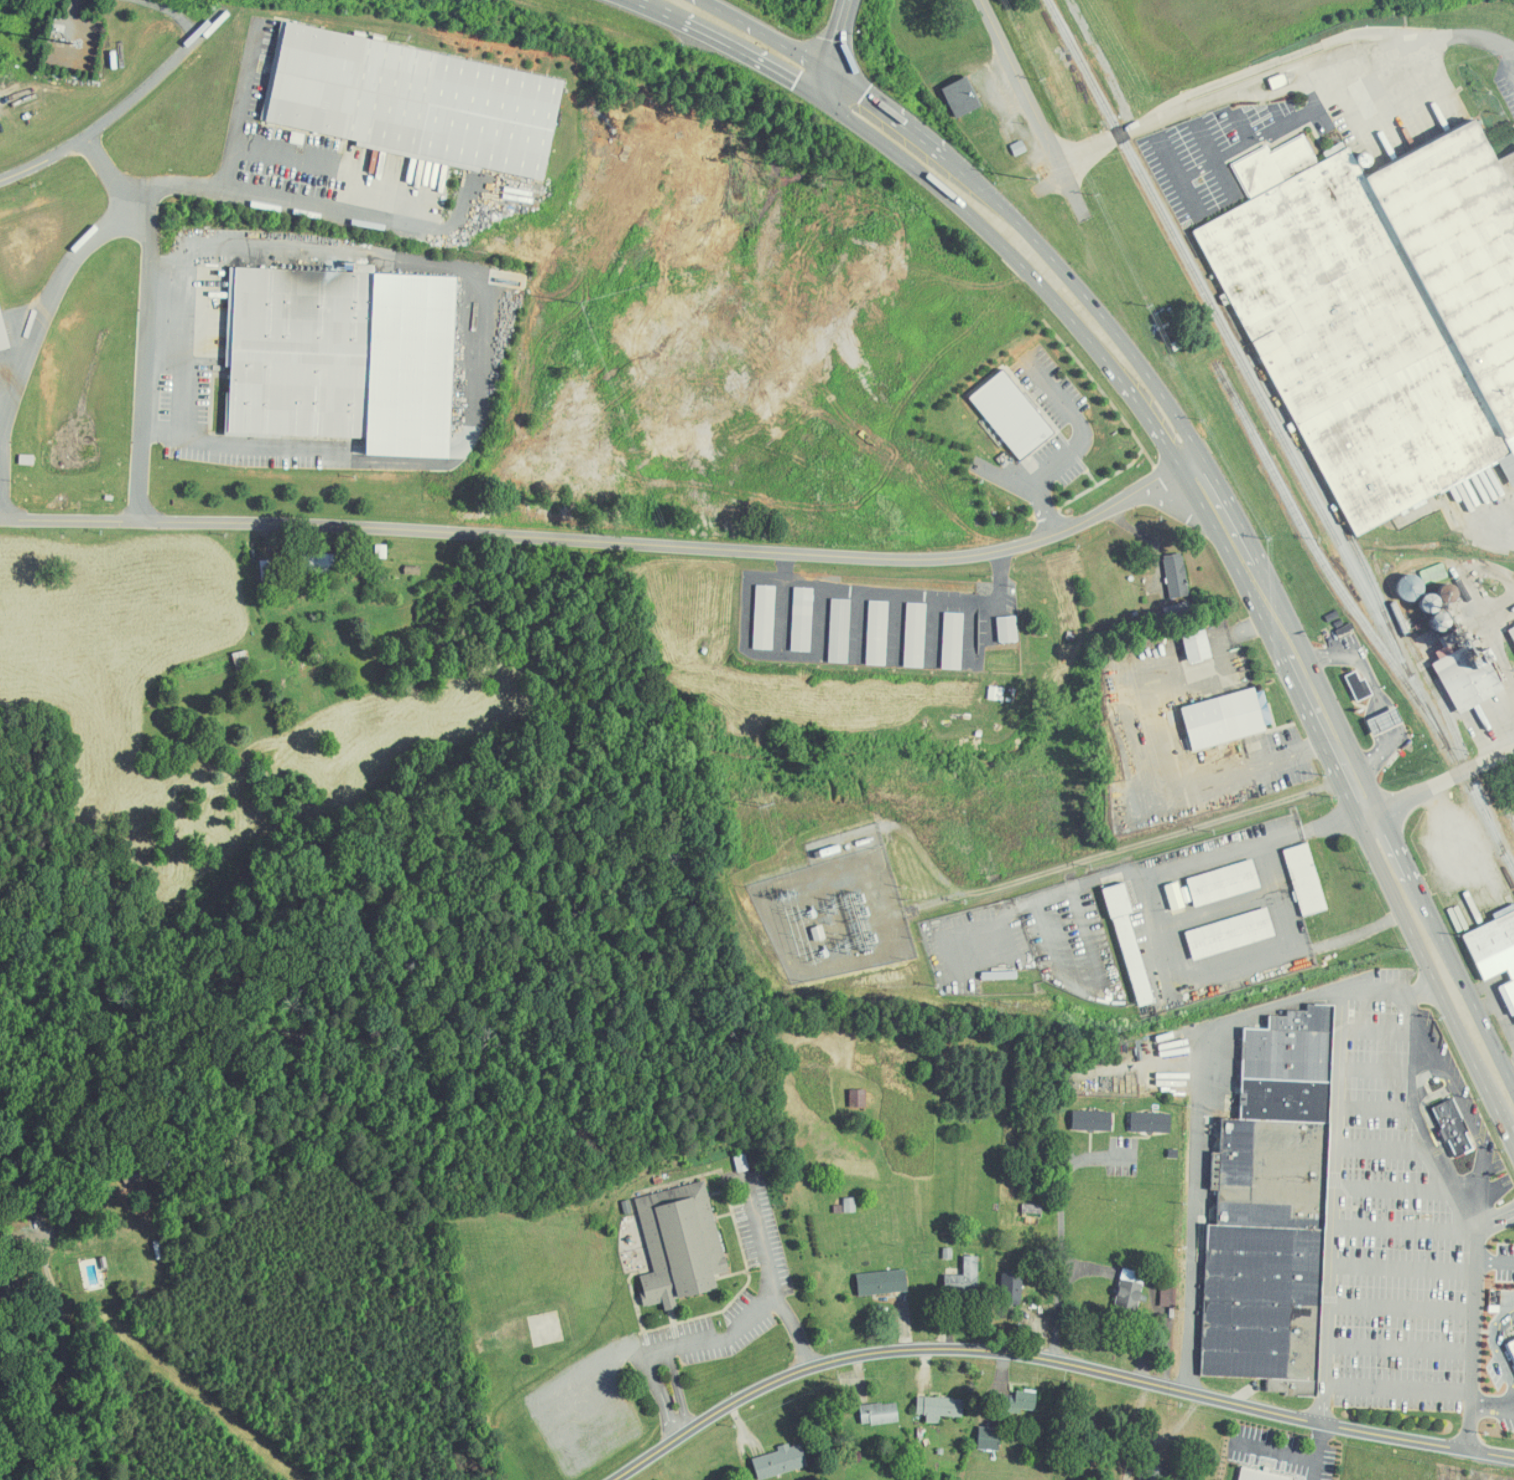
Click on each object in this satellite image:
road: (650, 5)
road: (762, 34)
road: (1420, 34)
road: (834, 47)
road: (742, 51)
road: (1507, 53)
building: (961, 97)
building: (415, 102)
road: (126, 104)
road: (242, 105)
road: (1192, 106)
road: (1035, 108)
building: (1260, 169)
road: (279, 197)
road: (1037, 242)
road: (72, 264)
road: (1020, 265)
building: (3, 335)
road: (146, 354)
road: (481, 356)
building: (343, 358)
building: (1013, 415)
road: (1, 421)
railway: (1281, 434)
road: (1073, 445)
road: (605, 542)
building: (314, 563)
building: (1177, 575)
building: (765, 617)
building: (803, 619)
building: (1008, 629)
building: (840, 630)
building: (1512, 632)
building: (878, 633)
building: (916, 635)
road: (1283, 638)
building: (953, 641)
building: (1197, 646)
building: (243, 661)
building: (1468, 680)
building: (1359, 686)
building: (1265, 708)
building: (1224, 719)
building: (1385, 722)
road: (1440, 780)
road: (1075, 863)
building: (1306, 879)
building: (1224, 883)
building: (1176, 896)
road: (1281, 901)
building: (1231, 934)
building: (1130, 943)
road: (1449, 946)
building: (1495, 952)
road: (1432, 987)
road: (1376, 1029)
road: (1374, 1067)
road: (1426, 1075)
building: (858, 1099)
road: (1375, 1105)
road: (1198, 1109)
building: (1093, 1121)
building: (1152, 1123)
road: (1417, 1126)
building: (1454, 1128)
road: (1379, 1147)
road: (1390, 1186)
road: (1482, 1202)
building: (850, 1205)
road: (1333, 1207)
building: (1272, 1210)
road: (1407, 1228)
road: (1062, 1231)
road: (763, 1243)
building: (681, 1244)
road: (1497, 1260)
road: (1405, 1265)
building: (964, 1280)
building: (882, 1282)
building: (1012, 1289)
building: (1130, 1291)
road: (1404, 1305)
road: (750, 1319)
road: (1477, 1337)
road: (1494, 1341)
road: (1402, 1344)
building: (1512, 1346)
road: (67, 1366)
road: (1144, 1380)
road: (678, 1384)
road: (1400, 1386)
road: (661, 1391)
building: (1015, 1402)
building: (940, 1407)
road: (1495, 1408)
building: (880, 1413)
road: (686, 1424)
road: (693, 1427)
building: (990, 1438)
building: (780, 1461)
building: (1260, 1475)

